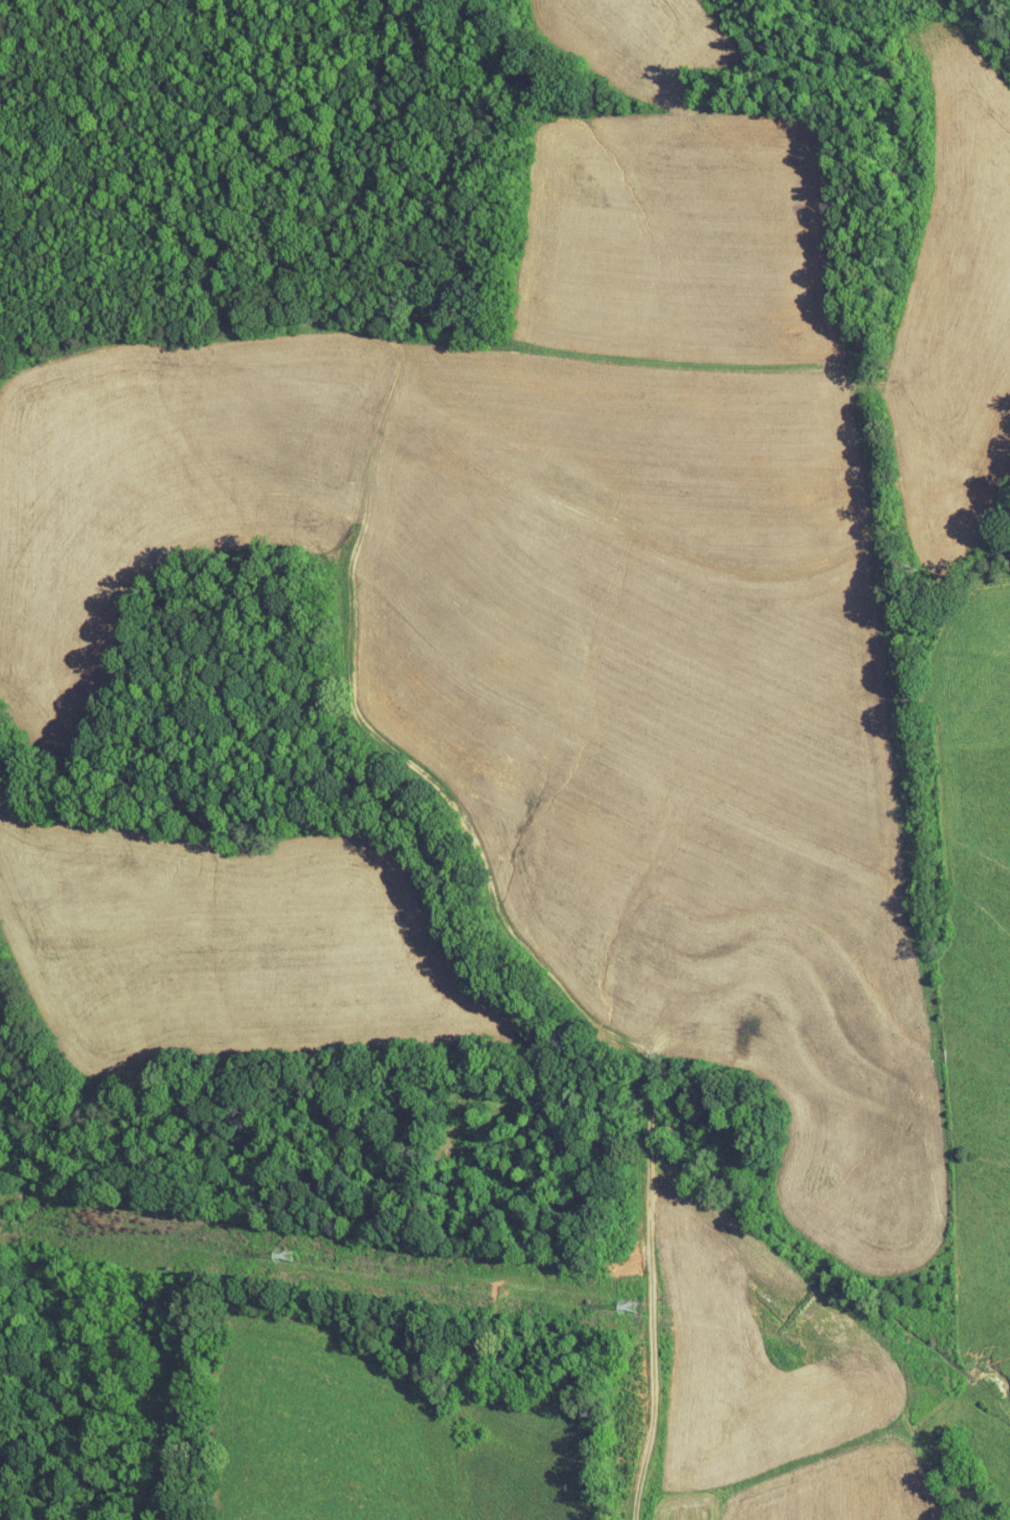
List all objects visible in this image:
power tower: (287, 1256)
power tower: (629, 1306)

